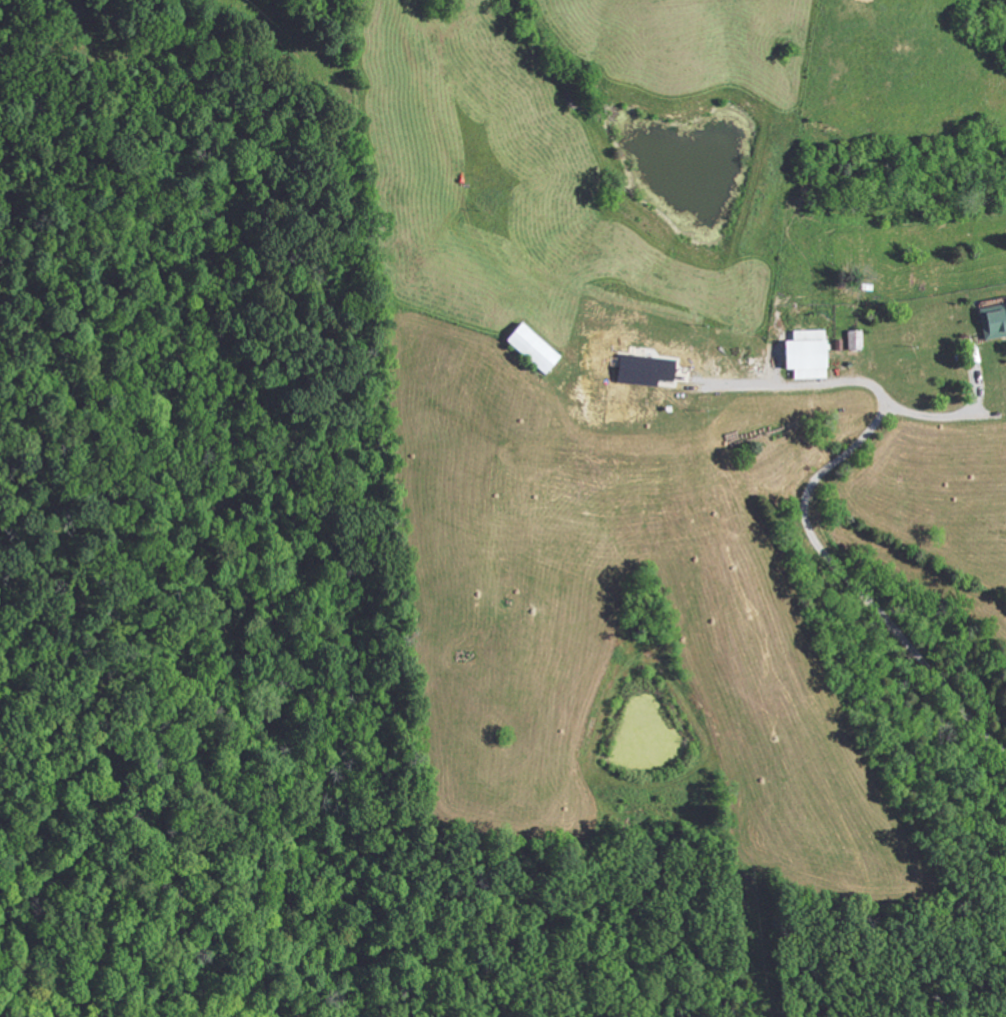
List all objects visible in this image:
building: (989, 319)
building: (846, 338)
building: (527, 347)
building: (801, 353)
building: (638, 369)
road: (955, 414)
road: (805, 504)

